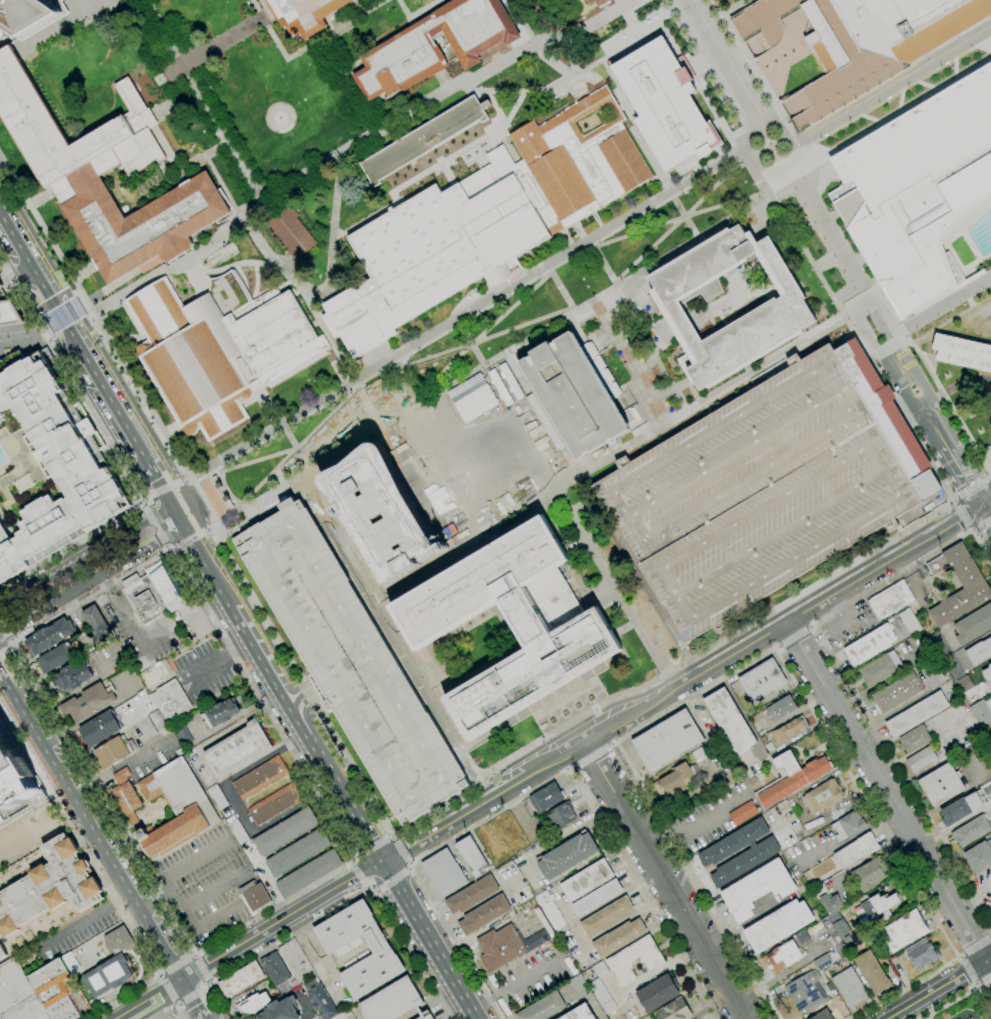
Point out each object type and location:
building: (588, 1)
building: (601, 2)
road: (402, 10)
road: (425, 10)
building: (26, 14)
building: (304, 14)
building: (57, 17)
road: (81, 17)
road: (521, 21)
road: (587, 24)
road: (64, 26)
road: (665, 36)
road: (224, 40)
building: (861, 40)
building: (435, 45)
road: (305, 47)
road: (6, 53)
park: (346, 61)
road: (549, 61)
road: (719, 61)
road: (891, 85)
road: (347, 87)
road: (517, 90)
road: (197, 99)
building: (663, 100)
road: (173, 102)
road: (898, 113)
fountain: (278, 118)
road: (714, 123)
road: (632, 124)
building: (128, 127)
road: (849, 127)
building: (424, 139)
fountain: (769, 146)
road: (704, 170)
road: (308, 171)
road: (782, 182)
building: (917, 190)
road: (682, 215)
road: (678, 217)
road: (679, 219)
building: (484, 221)
building: (139, 222)
road: (826, 231)
building: (291, 232)
road: (801, 246)
road: (604, 265)
road: (14, 269)
road: (326, 279)
road: (561, 290)
road: (835, 290)
road: (852, 290)
road: (329, 291)
road: (857, 295)
road: (884, 301)
road: (942, 303)
building: (8, 311)
building: (781, 311)
road: (851, 311)
road: (66, 314)
road: (842, 314)
traffic signals: (62, 317)
road: (901, 329)
road: (853, 331)
road: (71, 333)
street lamp: (25, 334)
road: (430, 334)
street lamp: (8, 336)
road: (327, 336)
road: (21, 337)
road: (846, 337)
road: (475, 338)
road: (59, 347)
road: (886, 347)
road: (454, 348)
road: (511, 351)
building: (220, 352)
building: (962, 353)
road: (2, 354)
road: (477, 355)
road: (373, 358)
road: (632, 362)
road: (379, 369)
road: (953, 387)
road: (923, 389)
road: (834, 394)
building: (573, 395)
road: (702, 401)
road: (366, 404)
road: (947, 405)
road: (970, 406)
road: (909, 407)
road: (542, 414)
road: (324, 415)
building: (888, 417)
road: (933, 425)
road: (336, 435)
road: (866, 443)
road: (294, 447)
road: (111, 451)
road: (978, 456)
road: (255, 460)
building: (55, 465)
road: (213, 469)
road: (761, 469)
road: (962, 476)
road: (265, 477)
road: (157, 478)
road: (990, 478)
road: (188, 479)
street lamp: (775, 484)
road: (890, 484)
road: (163, 489)
road: (972, 489)
road: (225, 490)
building: (757, 493)
parking lot: (757, 493)
street lamp: (869, 494)
road: (974, 495)
flagpole: (944, 497)
road: (141, 499)
flagpole: (944, 500)
road: (141, 501)
road: (953, 501)
road: (986, 502)
traffic signals: (172, 504)
road: (972, 504)
road: (981, 504)
traffic signals: (981, 505)
road: (766, 507)
road: (236, 508)
building: (380, 512)
road: (192, 513)
road: (985, 513)
road: (963, 514)
road: (178, 517)
road: (501, 518)
flagpole: (246, 521)
road: (156, 522)
street lamp: (713, 522)
road: (981, 523)
street lamp: (813, 524)
road: (209, 527)
flagpole: (238, 527)
traffic signals: (184, 530)
road: (970, 530)
flagpole: (230, 531)
road: (780, 532)
road: (912, 534)
road: (642, 535)
road: (190, 538)
road: (217, 540)
road: (170, 546)
street lamp: (285, 547)
road: (876, 547)
road: (173, 548)
road: (146, 550)
road: (86, 554)
street lamp: (760, 555)
road: (795, 558)
road: (205, 569)
road: (614, 578)
road: (671, 580)
building: (971, 581)
street lamp: (306, 582)
building: (166, 585)
street lamp: (706, 586)
road: (800, 594)
building: (143, 597)
road: (650, 598)
building: (890, 600)
road: (54, 603)
road: (686, 606)
building: (909, 622)
building: (96, 623)
parking lot: (844, 625)
building: (973, 625)
road: (810, 627)
road: (231, 628)
road: (4, 630)
building: (564, 631)
building: (49, 636)
road: (793, 636)
road: (11, 641)
road: (729, 642)
road: (754, 642)
road: (2, 644)
road: (10, 645)
building: (870, 645)
road: (776, 646)
road: (250, 647)
road: (5, 648)
road: (1, 650)
traffic signals: (6, 652)
building: (979, 652)
road: (764, 653)
building: (55, 658)
building: (943, 661)
building: (350, 662)
parking lot: (350, 662)
parking lot: (205, 668)
road: (409, 669)
building: (879, 669)
building: (155, 673)
building: (987, 674)
building: (72, 677)
road: (843, 678)
building: (762, 680)
building: (963, 684)
road: (294, 688)
building: (897, 693)
road: (300, 696)
road: (281, 700)
building: (171, 701)
building: (89, 702)
building: (784, 706)
street lamp: (381, 708)
road: (593, 709)
building: (221, 713)
building: (982, 713)
building: (916, 715)
building: (730, 721)
building: (158, 722)
road: (601, 726)
building: (100, 728)
building: (790, 729)
building: (181, 735)
building: (667, 740)
building: (914, 740)
road: (613, 743)
street lamp: (402, 744)
building: (237, 749)
building: (705, 751)
building: (112, 752)
road: (591, 758)
building: (920, 759)
road: (126, 761)
road: (468, 761)
road: (564, 766)
road: (325, 768)
building: (816, 769)
road: (478, 773)
building: (260, 777)
road: (477, 778)
road: (493, 778)
building: (15, 779)
road: (521, 780)
building: (675, 780)
building: (782, 780)
building: (941, 784)
road: (539, 789)
road: (889, 794)
building: (822, 796)
building: (216, 797)
building: (546, 798)
building: (275, 803)
road: (93, 805)
building: (189, 807)
building: (961, 809)
building: (743, 813)
building: (561, 815)
road: (431, 819)
road: (449, 822)
road: (695, 823)
building: (848, 825)
road: (89, 828)
road: (25, 831)
parking lot: (30, 831)
building: (285, 831)
building: (971, 831)
building: (239, 832)
road: (391, 836)
traffic signals: (369, 839)
road: (371, 843)
traffic signals: (413, 844)
road: (373, 846)
road: (400, 849)
building: (855, 851)
building: (298, 852)
building: (760, 852)
building: (472, 856)
building: (567, 856)
building: (979, 856)
road: (352, 858)
road: (355, 858)
traffic signals: (383, 862)
road: (348, 863)
road: (409, 865)
road: (409, 869)
road: (172, 871)
building: (444, 873)
building: (308, 874)
building: (871, 874)
road: (356, 875)
road: (357, 875)
road: (100, 877)
traffic signals: (350, 879)
building: (586, 880)
road: (391, 881)
road: (668, 881)
parking lot: (206, 884)
road: (362, 885)
traffic signals: (359, 887)
road: (214, 889)
building: (758, 889)
building: (43, 892)
road: (373, 893)
building: (472, 894)
building: (255, 897)
building: (597, 897)
road: (973, 897)
building: (828, 902)
building: (883, 902)
building: (524, 906)
building: (552, 912)
building: (484, 914)
building: (606, 917)
road: (211, 919)
building: (778, 925)
building: (841, 927)
building: (904, 931)
road: (255, 934)
building: (831, 934)
road: (289, 935)
building: (802, 937)
building: (619, 938)
building: (534, 939)
road: (429, 940)
building: (118, 941)
road: (975, 946)
building: (500, 947)
building: (337, 951)
building: (842, 951)
road: (406, 952)
road: (306, 953)
building: (921, 953)
road: (193, 954)
building: (782, 956)
road: (959, 957)
building: (634, 959)
building: (295, 960)
building: (822, 961)
road: (176, 965)
road: (200, 969)
building: (600, 969)
road: (967, 969)
building: (276, 972)
road: (196, 973)
building: (872, 973)
road: (158, 974)
building: (108, 975)
road: (982, 976)
building: (240, 979)
road: (209, 983)
road: (975, 984)
building: (579, 985)
building: (13, 986)
building: (57, 986)
building: (850, 988)
road: (939, 988)
road: (165, 989)
building: (599, 992)
building: (806, 992)
traffic signals: (206, 993)
building: (657, 993)
road: (194, 994)
road: (960, 995)
traffic signals: (149, 997)
road: (146, 998)
road: (191, 999)
road: (221, 1001)
building: (321, 1001)
building: (392, 1001)
road: (212, 1003)
road: (173, 1004)
building: (252, 1004)
road: (176, 1005)
traffic signals: (195, 1005)
park: (962, 1005)
building: (542, 1007)
building: (609, 1007)
road: (169, 1008)
building: (28, 1010)
building: (280, 1010)
building: (419, 1010)
building: (675, 1010)
building: (578, 1013)
building: (344, 1015)
building: (425, 1015)
building: (828, 1015)
parking lot: (168, 1016)
road: (925, 1018)

